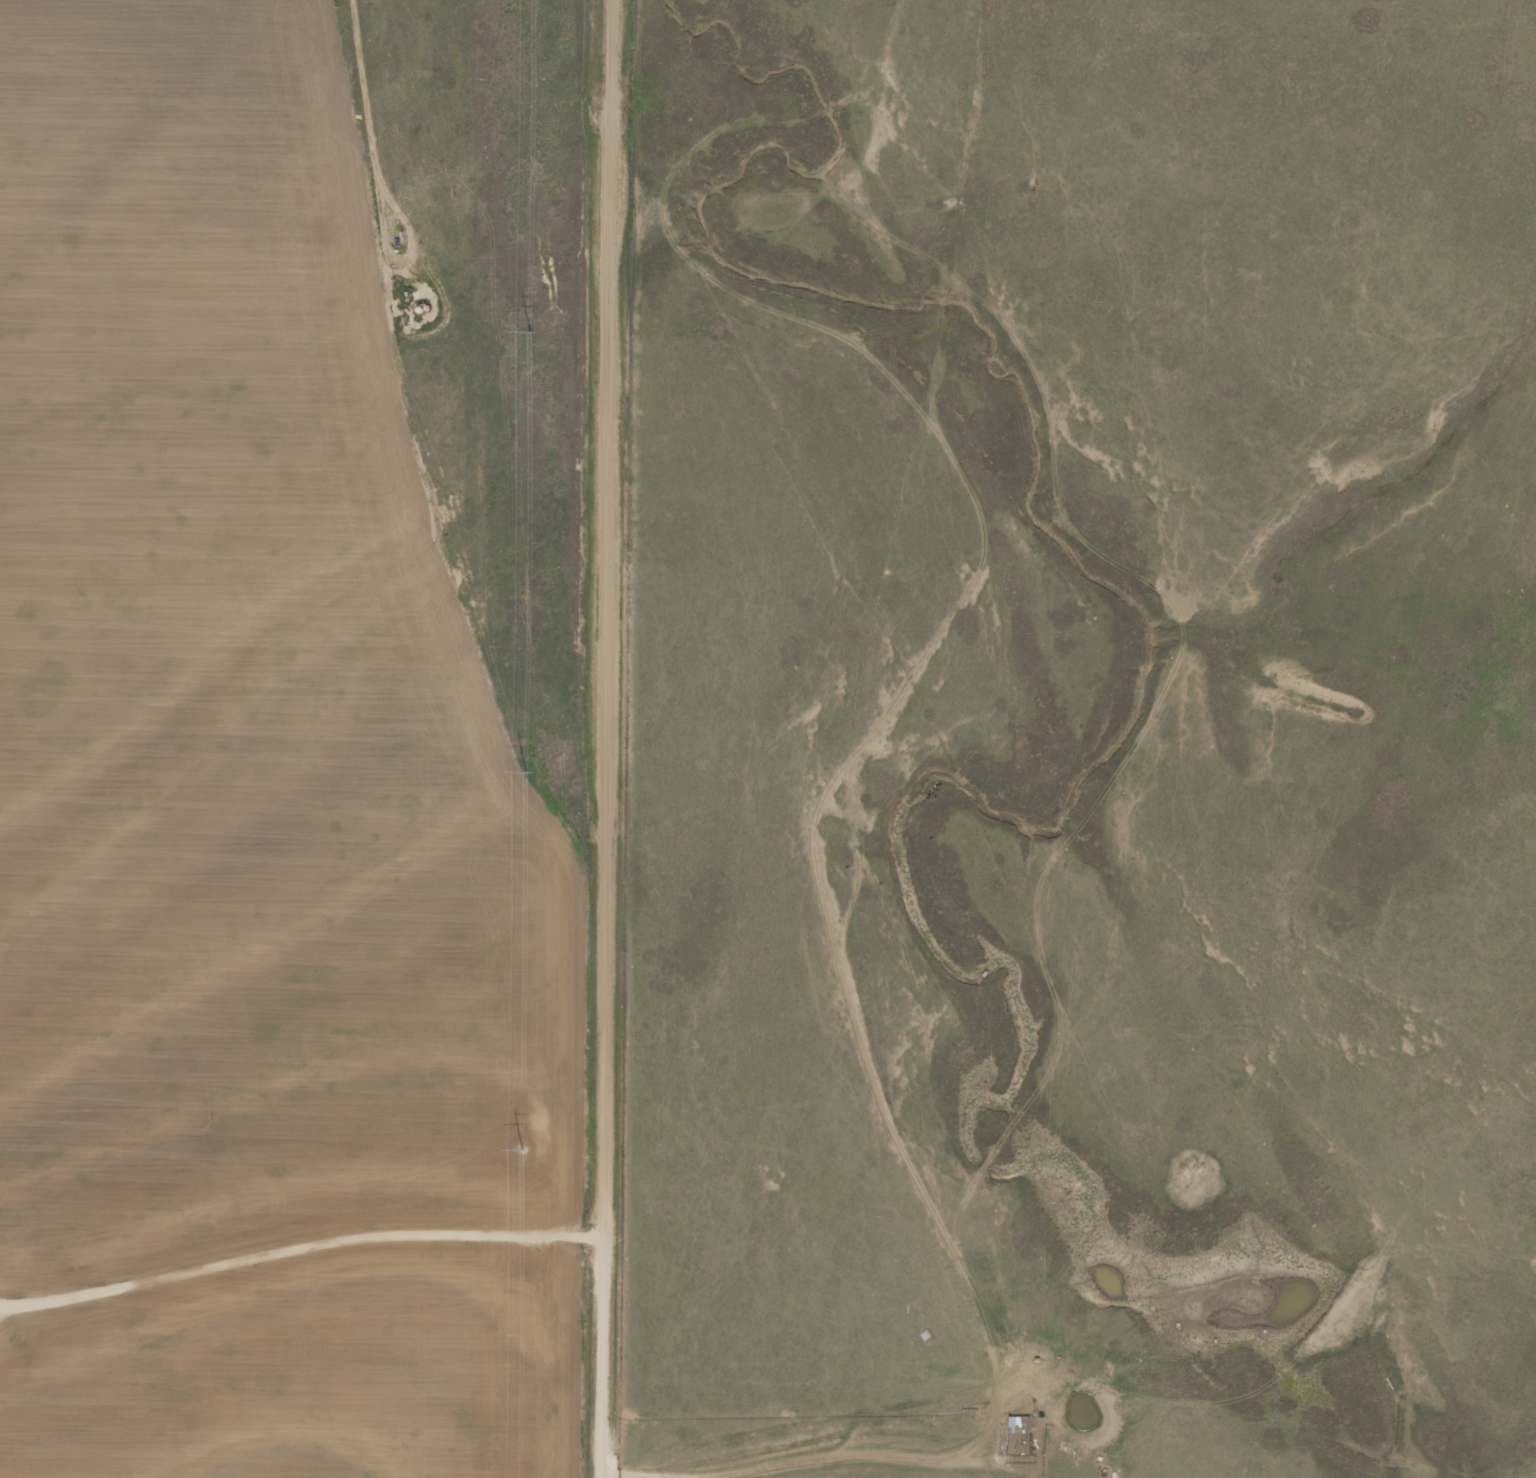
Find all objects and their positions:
power tower: (528, 332)
road: (611, 739)
power tower: (522, 769)
power tower: (521, 1150)

